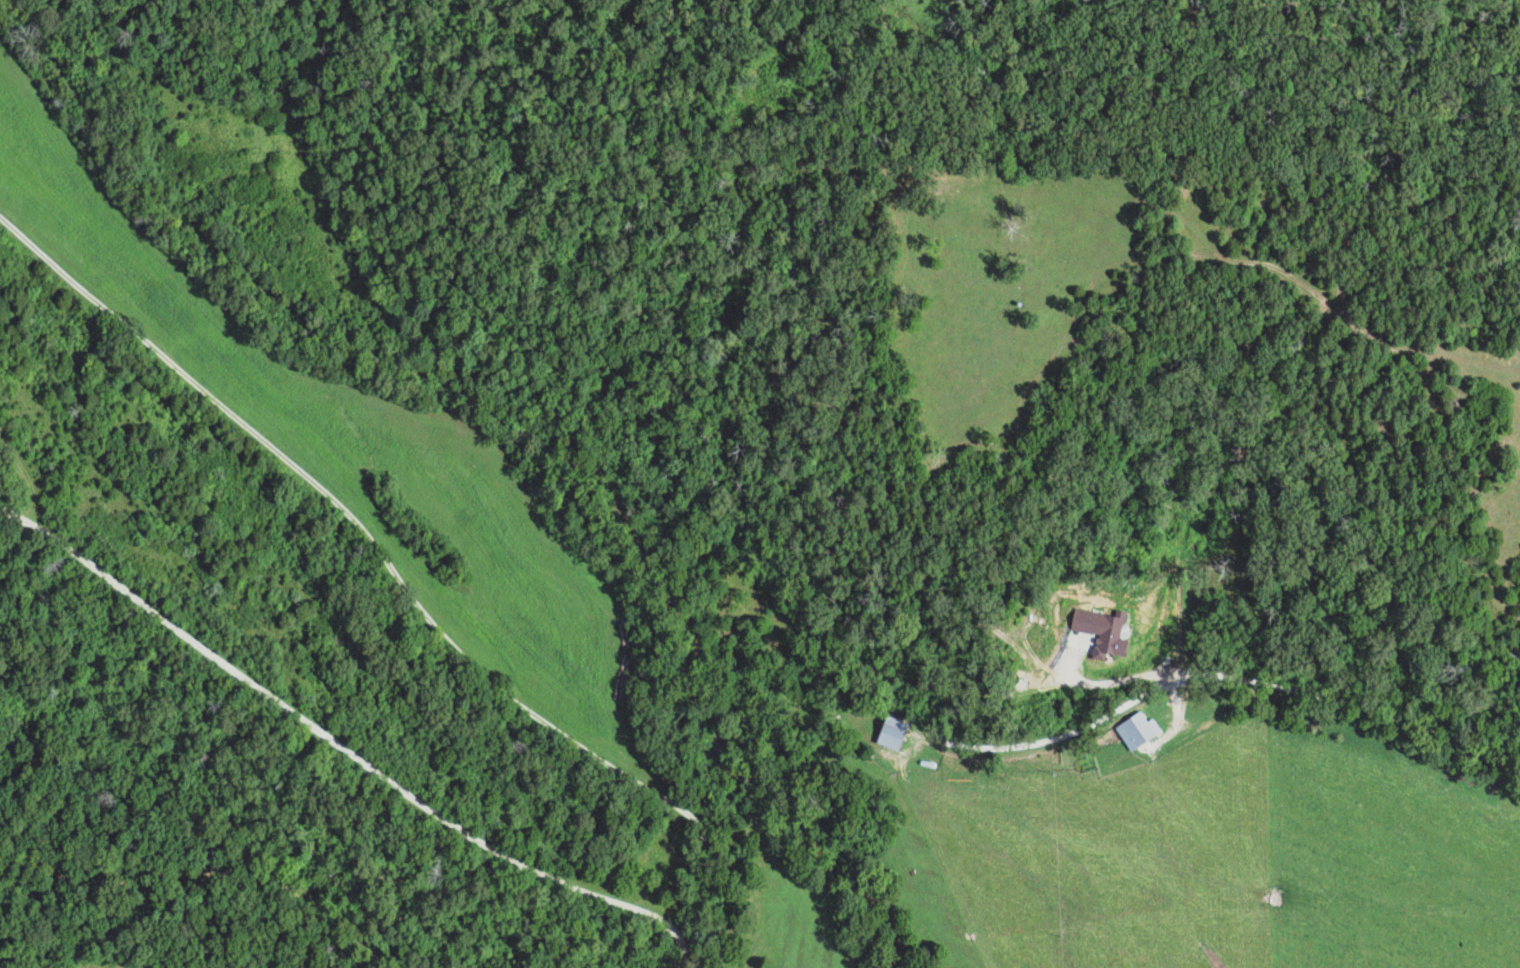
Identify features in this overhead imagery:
road: (389, 577)
road: (1218, 675)
building: (1180, 723)
road: (335, 744)
road: (680, 959)

